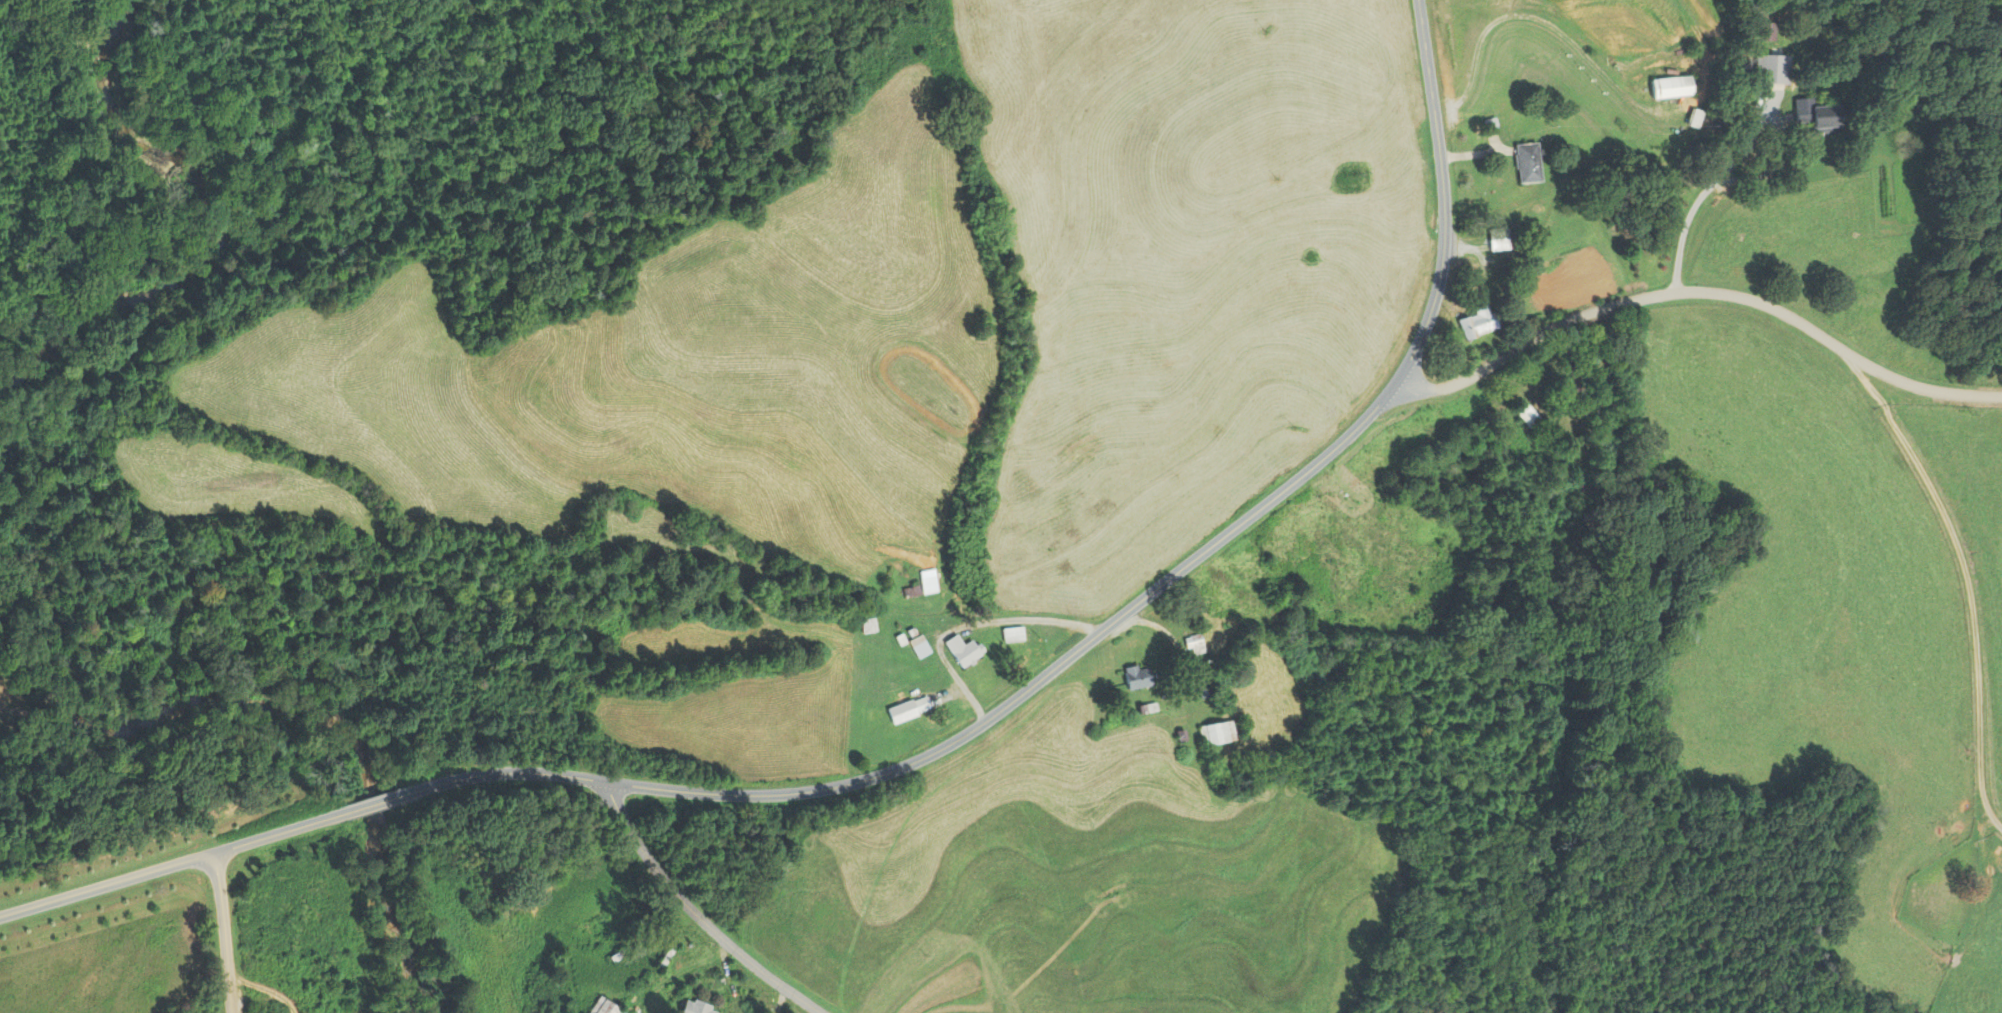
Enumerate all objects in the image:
building: (1765, 32)
building: (1769, 68)
building: (1671, 87)
building: (1821, 117)
building: (1693, 118)
building: (1526, 163)
road: (1697, 201)
building: (1498, 239)
road: (1694, 291)
building: (1477, 322)
building: (1526, 415)
building: (1580, 484)
road: (1962, 585)
building: (1012, 635)
building: (1192, 645)
building: (919, 647)
building: (966, 652)
building: (1136, 678)
building: (906, 707)
building: (1215, 734)
road: (945, 748)
park: (1940, 894)
road: (695, 915)
road: (224, 932)
building: (603, 1007)
building: (697, 1008)

